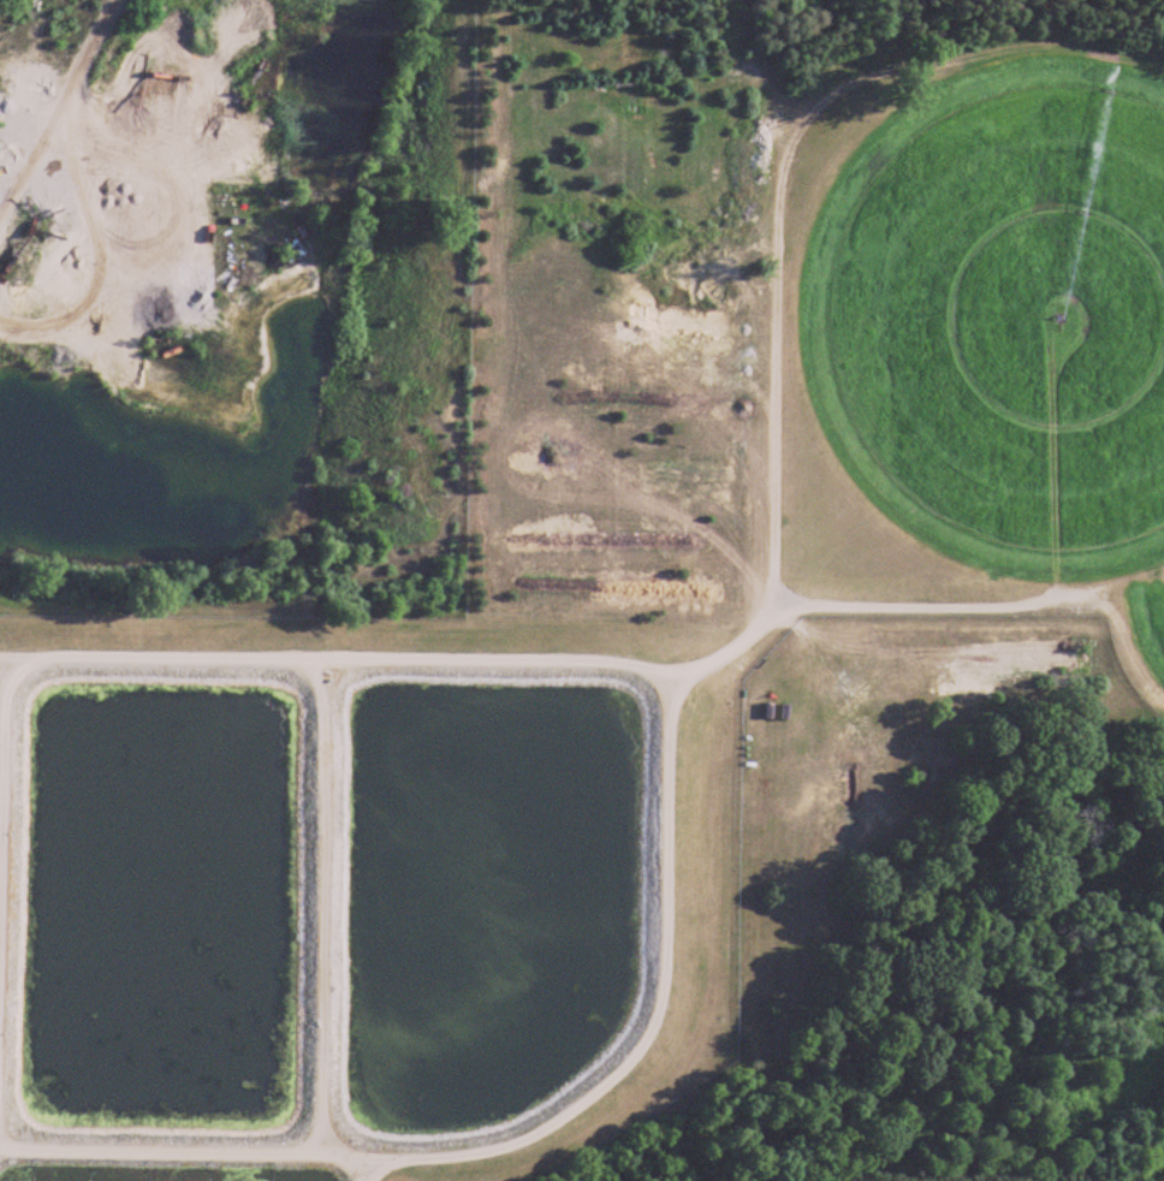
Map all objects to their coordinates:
road: (82, 94)

